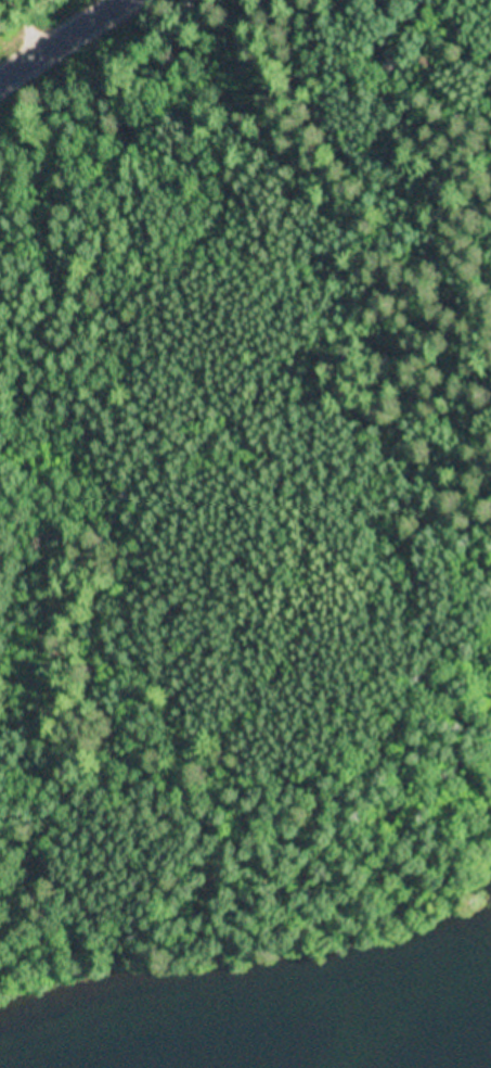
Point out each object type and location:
road: (23, 23)
road: (60, 40)

